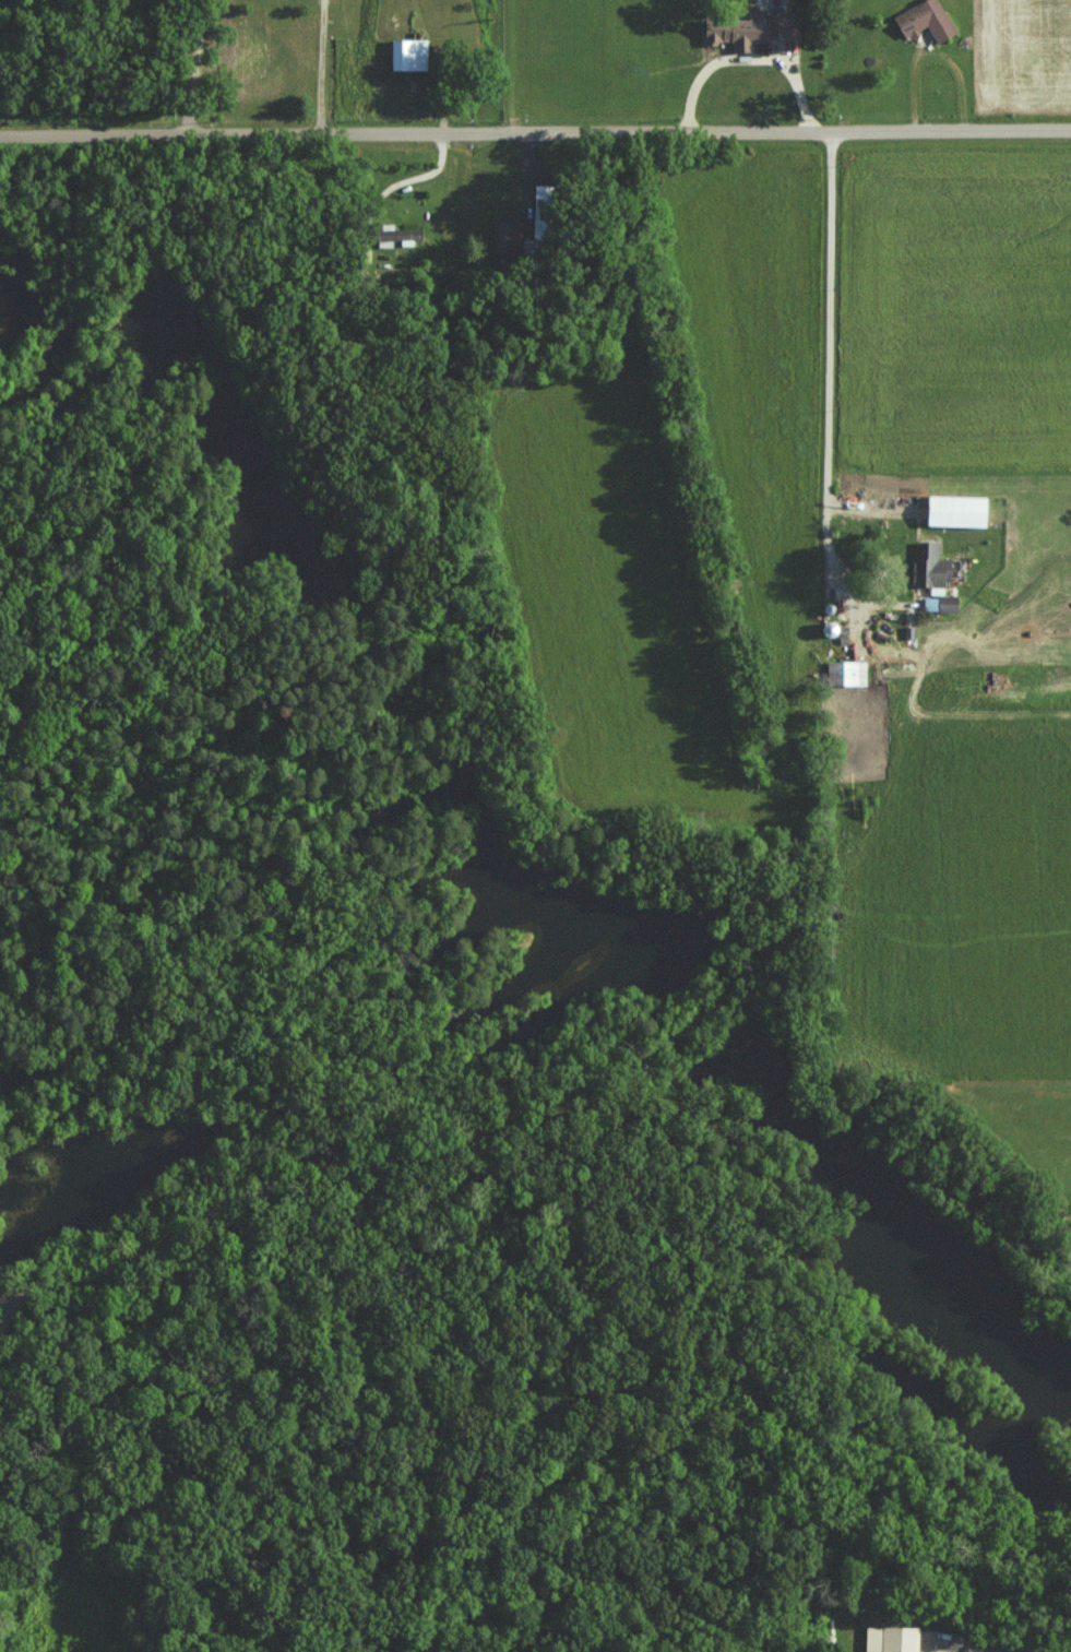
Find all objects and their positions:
building: (923, 20)
building: (741, 31)
building: (406, 54)
road: (750, 63)
road: (199, 64)
road: (323, 64)
road: (535, 130)
building: (395, 236)
building: (502, 237)
road: (829, 376)
building: (953, 511)
building: (929, 567)
building: (845, 673)
road: (178, 1267)
road: (0, 1347)
building: (890, 1639)
road: (1037, 1645)
road: (972, 1651)

